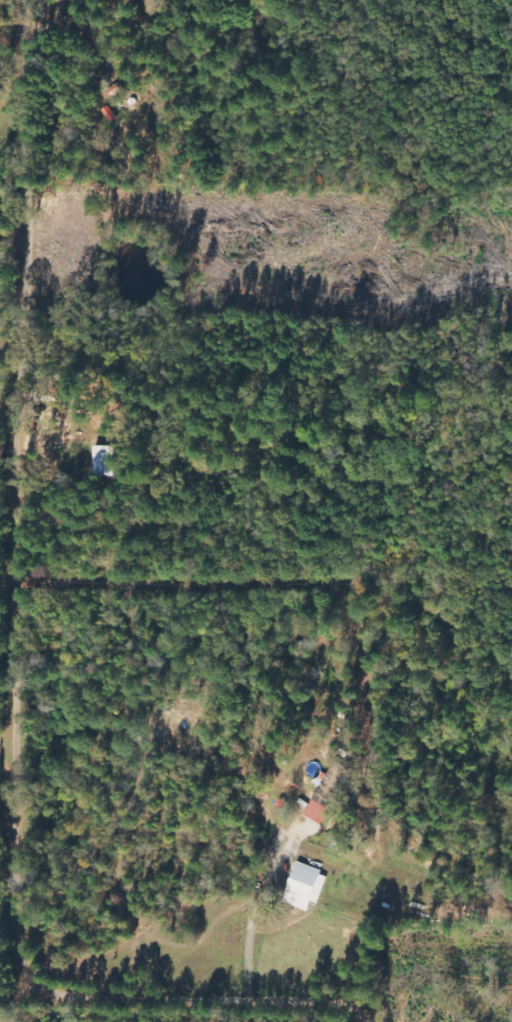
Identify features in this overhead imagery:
building: (103, 461)
road: (23, 663)
building: (324, 798)
building: (307, 885)

